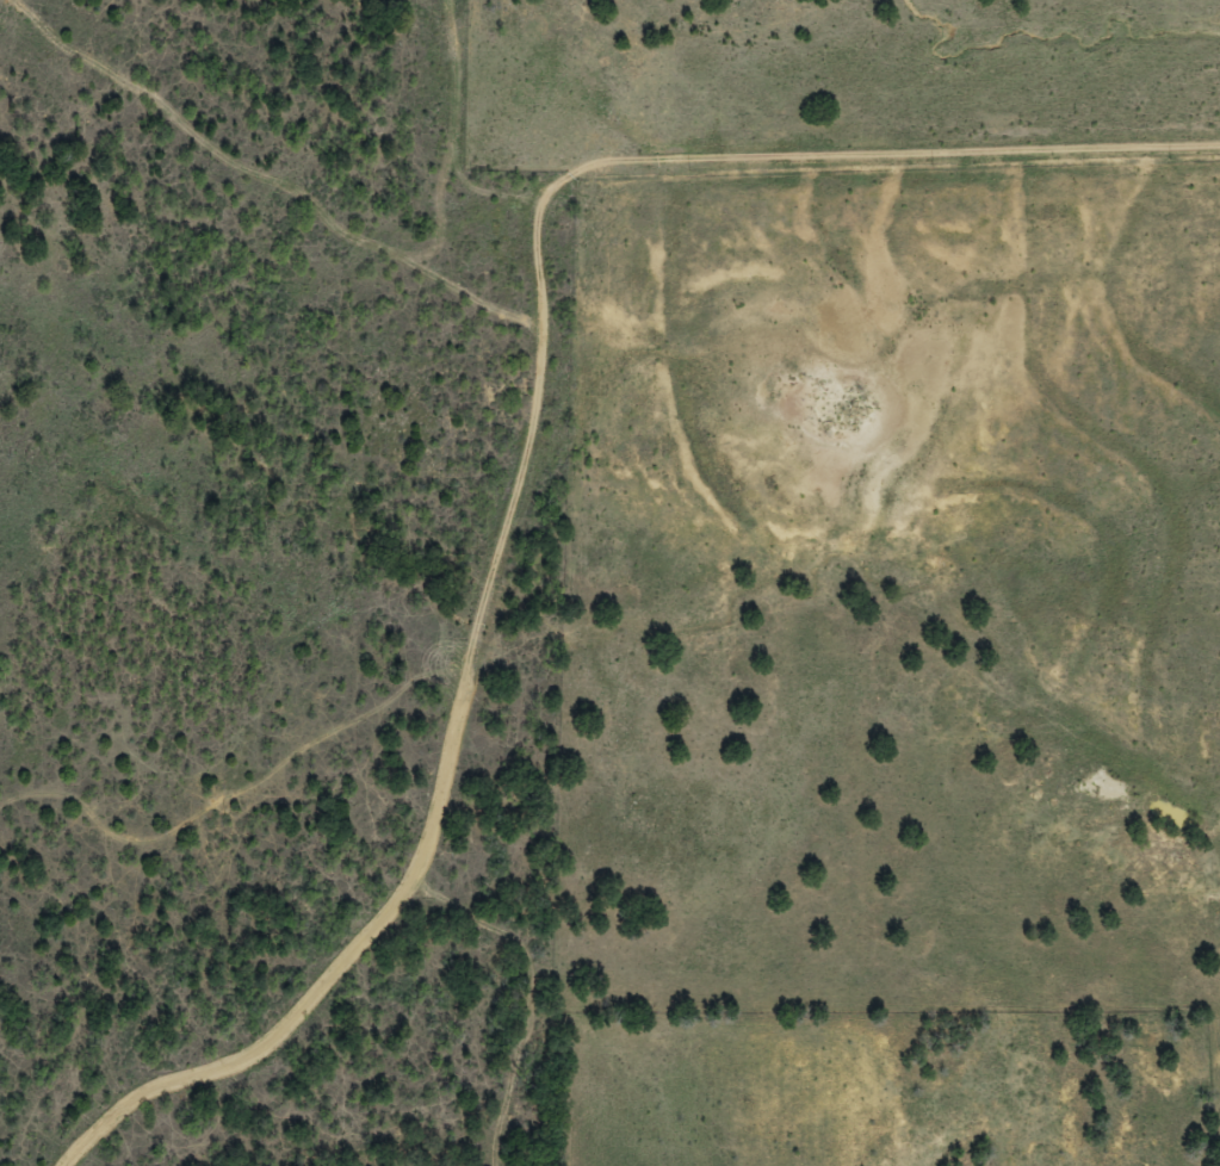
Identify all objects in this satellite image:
road: (518, 420)

